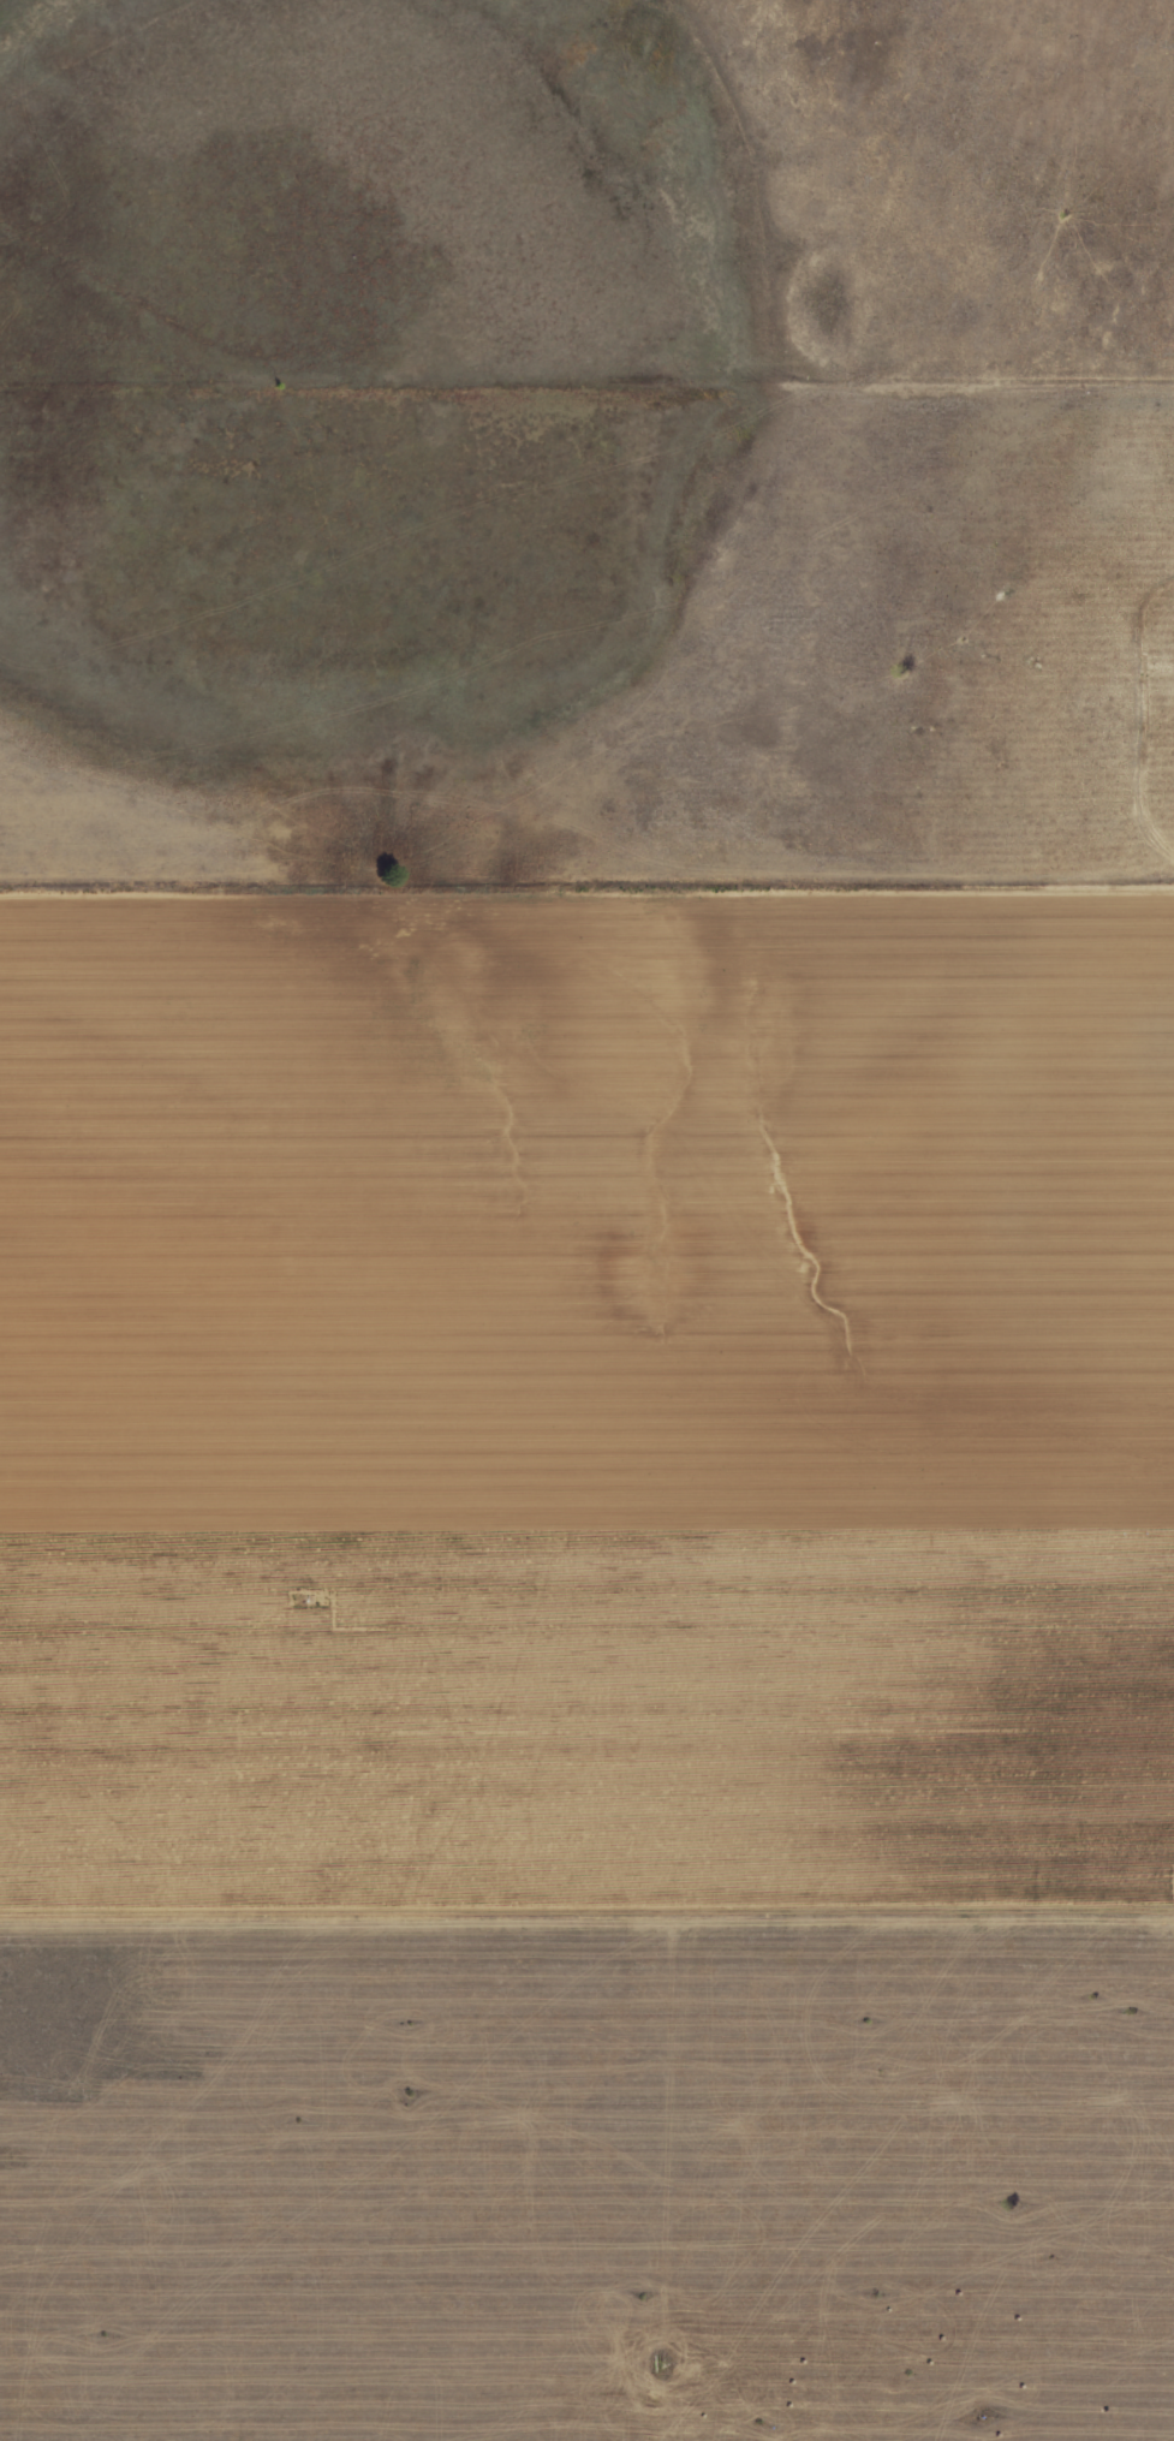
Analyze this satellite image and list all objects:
road: (586, 1898)

